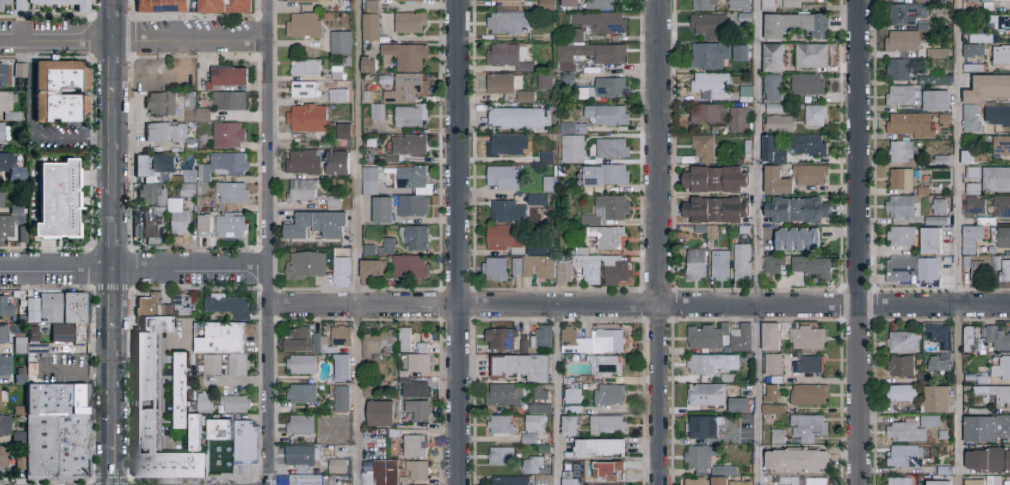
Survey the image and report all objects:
building: (301, 0)
building: (417, 0)
building: (508, 1)
building: (4, 2)
building: (934, 2)
building: (801, 3)
building: (572, 4)
building: (992, 4)
building: (371, 5)
building: (604, 5)
building: (706, 5)
building: (741, 5)
building: (79, 6)
building: (166, 6)
building: (549, 6)
building: (770, 6)
building: (230, 7)
building: (908, 15)
road: (115, 19)
building: (747, 19)
building: (409, 22)
building: (604, 24)
building: (999, 24)
building: (303, 25)
building: (512, 25)
building: (370, 26)
building: (799, 27)
building: (924, 27)
building: (712, 28)
road: (133, 38)
building: (577, 38)
building: (976, 38)
building: (986, 40)
building: (340, 42)
building: (904, 44)
building: (739, 51)
building: (975, 52)
building: (940, 55)
building: (404, 56)
building: (593, 56)
building: (707, 57)
building: (813, 57)
building: (1002, 57)
building: (511, 59)
building: (775, 60)
road: (115, 64)
building: (367, 64)
building: (304, 67)
building: (19, 69)
building: (741, 69)
building: (976, 70)
building: (902, 71)
building: (1, 74)
building: (228, 75)
building: (936, 82)
building: (569, 83)
building: (166, 84)
building: (547, 84)
building: (505, 85)
building: (809, 86)
building: (406, 87)
building: (713, 87)
building: (303, 89)
building: (774, 89)
building: (608, 91)
building: (988, 91)
building: (64, 92)
building: (747, 96)
building: (909, 97)
building: (527, 99)
building: (229, 100)
building: (938, 103)
building: (7, 105)
building: (194, 109)
building: (775, 110)
building: (376, 111)
building: (410, 115)
building: (710, 116)
building: (1000, 116)
building: (307, 117)
building: (609, 117)
building: (817, 117)
building: (520, 120)
building: (947, 121)
building: (741, 122)
building: (973, 122)
road: (31, 125)
building: (781, 126)
building: (914, 126)
building: (1, 130)
building: (343, 130)
building: (574, 130)
building: (164, 131)
building: (227, 134)
building: (505, 147)
building: (811, 147)
building: (1002, 149)
building: (614, 150)
building: (706, 150)
building: (574, 151)
building: (904, 152)
road: (115, 153)
building: (775, 153)
building: (975, 159)
building: (548, 160)
building: (302, 161)
building: (336, 162)
building: (593, 163)
building: (937, 164)
building: (222, 165)
building: (153, 166)
building: (11, 168)
building: (975, 174)
building: (188, 176)
building: (607, 177)
building: (812, 177)
building: (412, 179)
building: (505, 179)
building: (369, 180)
building: (903, 181)
building: (718, 182)
building: (997, 182)
building: (779, 183)
building: (550, 186)
building: (301, 190)
building: (975, 191)
building: (231, 192)
building: (925, 192)
building: (150, 193)
building: (0, 195)
building: (58, 198)
building: (333, 202)
building: (540, 202)
building: (411, 205)
building: (976, 208)
building: (381, 209)
building: (904, 209)
building: (941, 209)
building: (1002, 209)
building: (718, 212)
building: (799, 212)
building: (610, 213)
building: (510, 214)
building: (177, 216)
building: (150, 223)
building: (938, 223)
building: (988, 223)
building: (315, 224)
building: (5, 225)
building: (203, 225)
building: (230, 225)
building: (703, 231)
building: (746, 232)
building: (975, 235)
building: (415, 237)
building: (903, 237)
building: (1004, 239)
building: (610, 240)
building: (509, 241)
road: (115, 242)
road: (266, 242)
road: (355, 242)
road: (456, 242)
road: (657, 242)
road: (757, 242)
building: (799, 242)
road: (857, 242)
road: (957, 242)
building: (932, 243)
building: (386, 245)
building: (970, 249)
building: (540, 252)
building: (584, 253)
building: (968, 264)
building: (306, 265)
building: (734, 265)
building: (998, 265)
building: (408, 266)
building: (698, 266)
building: (776, 266)
road: (132, 268)
building: (519, 268)
building: (542, 269)
building: (815, 269)
building: (341, 271)
building: (370, 271)
building: (498, 271)
building: (606, 271)
building: (903, 271)
building: (931, 272)
building: (565, 273)
building: (980, 273)
building: (1006, 274)
road: (115, 297)
building: (151, 304)
building: (182, 304)
road: (638, 304)
building: (4, 305)
building: (228, 305)
building: (30, 308)
building: (51, 308)
building: (75, 310)
building: (158, 324)
building: (3, 333)
building: (70, 335)
building: (340, 336)
building: (795, 337)
building: (942, 337)
building: (711, 338)
building: (404, 339)
building: (744, 339)
building: (970, 339)
building: (998, 339)
building: (222, 340)
building: (297, 340)
building: (503, 340)
building: (374, 341)
building: (540, 341)
building: (37, 342)
building: (319, 343)
building: (523, 343)
building: (595, 343)
building: (905, 343)
building: (28, 344)
building: (983, 346)
building: (947, 357)
building: (419, 358)
building: (4, 364)
building: (211, 364)
building: (237, 364)
building: (301, 364)
building: (714, 364)
building: (776, 365)
building: (812, 365)
building: (607, 366)
building: (940, 366)
building: (69, 367)
building: (340, 367)
building: (522, 367)
building: (903, 367)
building: (1002, 369)
road: (78, 370)
building: (973, 378)
building: (729, 379)
building: (926, 379)
building: (589, 381)
building: (779, 381)
building: (985, 381)
road: (115, 386)
building: (415, 389)
building: (183, 391)
building: (301, 393)
building: (542, 394)
building: (904, 394)
building: (996, 394)
road: (556, 395)
building: (774, 395)
building: (509, 396)
building: (612, 396)
building: (710, 396)
building: (812, 396)
building: (2, 397)
building: (340, 397)
building: (575, 397)
building: (938, 400)
building: (65, 401)
building: (204, 401)
building: (234, 403)
building: (741, 406)
building: (417, 410)
building: (542, 410)
building: (775, 410)
building: (575, 411)
building: (981, 412)
building: (379, 413)
building: (155, 419)
building: (931, 422)
building: (4, 424)
building: (300, 424)
building: (536, 424)
building: (503, 426)
building: (609, 426)
building: (573, 427)
building: (708, 428)
building: (811, 428)
building: (217, 429)
building: (987, 430)
building: (197, 433)
building: (908, 433)
building: (945, 436)
building: (18, 437)
building: (780, 438)
building: (531, 440)
building: (249, 444)
building: (414, 445)
building: (60, 447)
building: (599, 449)
building: (547, 450)
building: (2, 455)
building: (301, 457)
building: (504, 457)
building: (907, 458)
building: (704, 459)
building: (800, 461)
building: (990, 461)
road: (114, 465)
building: (593, 465)
building: (336, 466)
building: (534, 466)
building: (416, 470)
building: (613, 471)
building: (727, 472)
building: (947, 472)
building: (384, 475)
building: (575, 476)
road: (269, 477)
building: (328, 478)
road: (46, 479)
building: (305, 479)
road: (110, 480)
road: (192, 480)
building: (591, 480)
building: (513, 481)
building: (698, 481)
building: (723, 481)
building: (804, 481)
building: (996, 481)
road: (92, 482)
building: (902, 482)
building: (1008, 482)
building: (744, 483)
building: (976, 483)
building: (606, 484)
building: (775, 484)
building: (941, 484)

